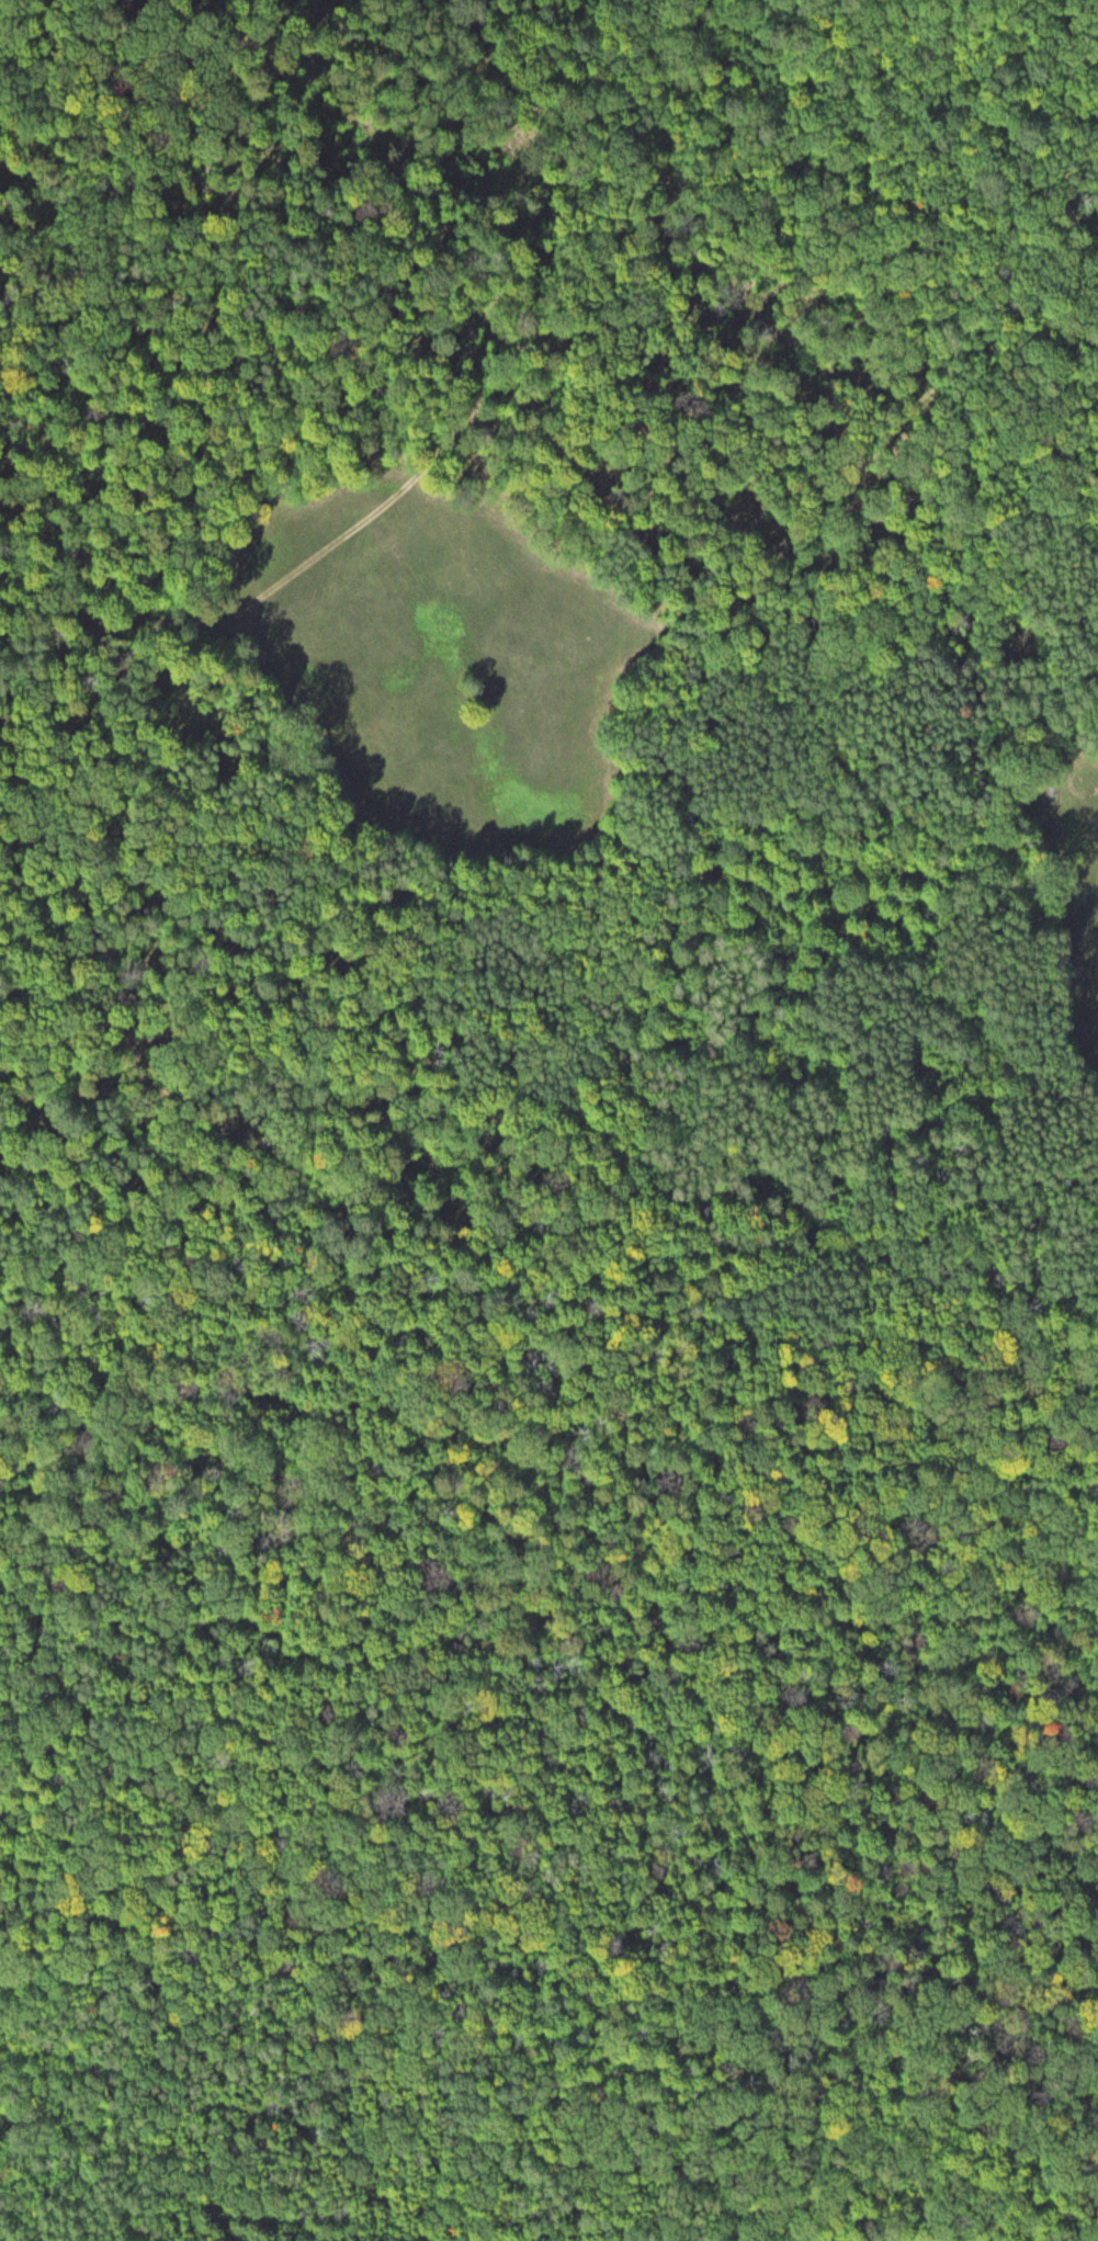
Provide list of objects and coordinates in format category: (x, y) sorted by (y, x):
road: (562, 1154)

